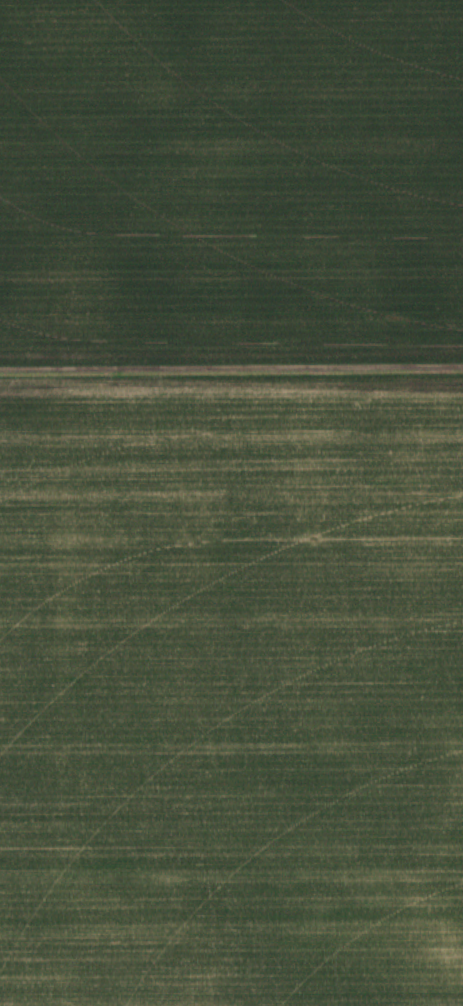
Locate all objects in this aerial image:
crop: (231, 189)
crop: (231, 692)

